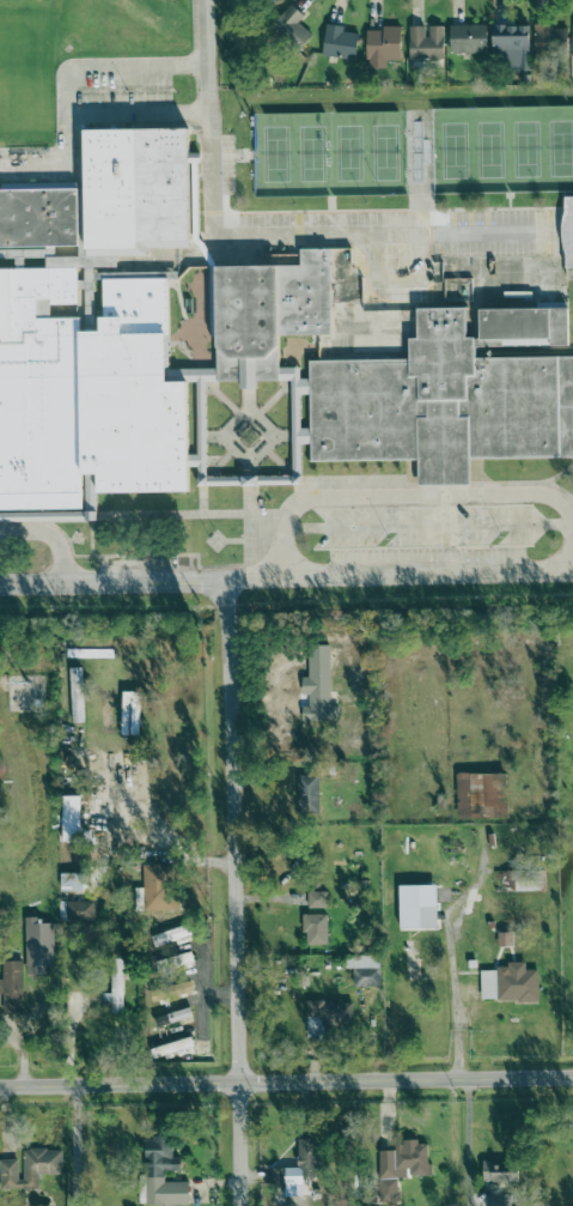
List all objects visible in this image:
building: (273, 0)
building: (293, 28)
building: (550, 38)
building: (469, 40)
building: (339, 43)
building: (426, 43)
building: (512, 46)
building: (383, 47)
road: (63, 92)
park: (489, 149)
park: (524, 149)
park: (560, 149)
park: (453, 150)
park: (348, 152)
park: (384, 152)
park: (274, 153)
park: (311, 153)
building: (568, 232)
road: (262, 237)
building: (374, 313)
building: (376, 344)
building: (232, 351)
road: (407, 496)
road: (49, 539)
road: (398, 575)
road: (112, 583)
building: (318, 685)
building: (307, 794)
building: (481, 795)
building: (71, 819)
road: (153, 847)
building: (72, 881)
building: (516, 881)
road: (232, 892)
building: (317, 899)
building: (160, 901)
building: (419, 907)
building: (80, 911)
building: (316, 929)
building: (171, 934)
building: (38, 946)
building: (173, 962)
road: (452, 963)
building: (365, 970)
building: (517, 983)
building: (488, 984)
building: (12, 986)
building: (0, 987)
building: (115, 988)
building: (328, 1016)
road: (68, 1042)
building: (158, 1050)
road: (286, 1085)
road: (465, 1143)
road: (75, 1146)
building: (403, 1163)
building: (30, 1168)
building: (298, 1169)
building: (496, 1170)
building: (161, 1175)
building: (499, 1200)

